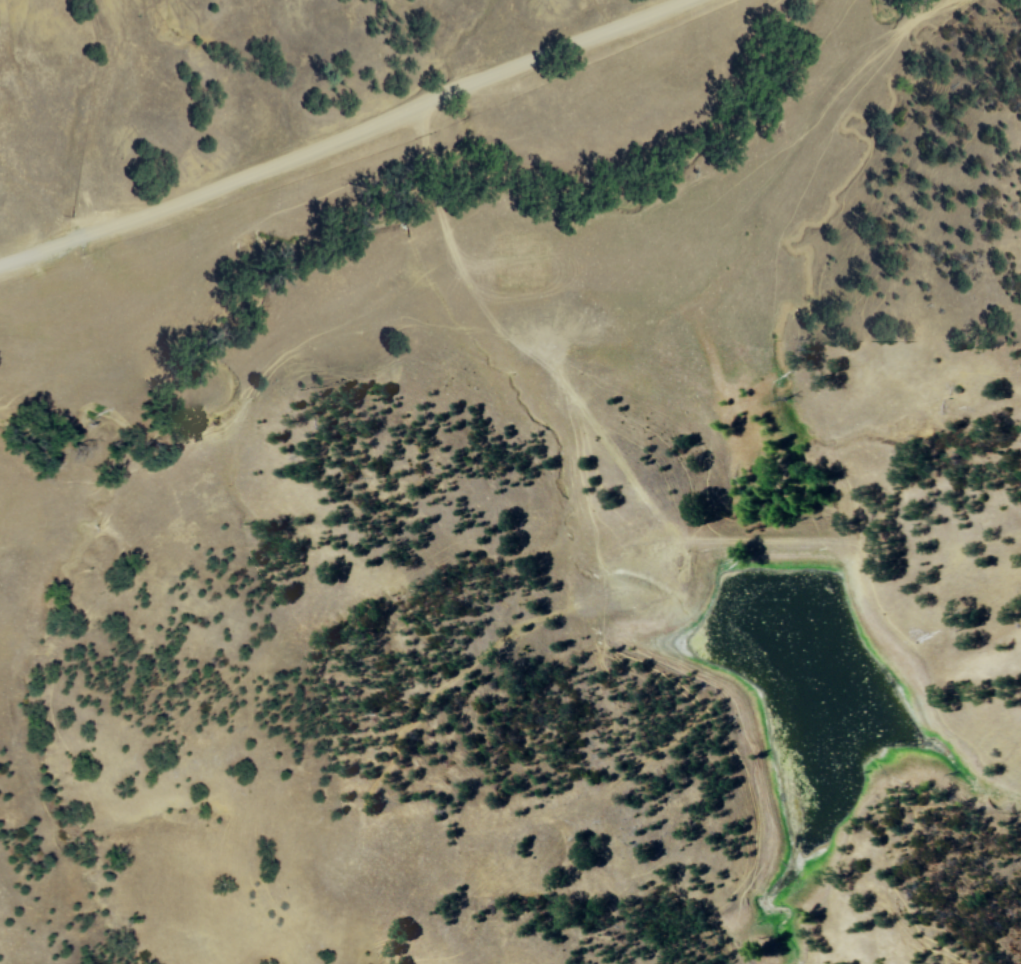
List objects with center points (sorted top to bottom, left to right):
road: (350, 140)
dam: (772, 545)

